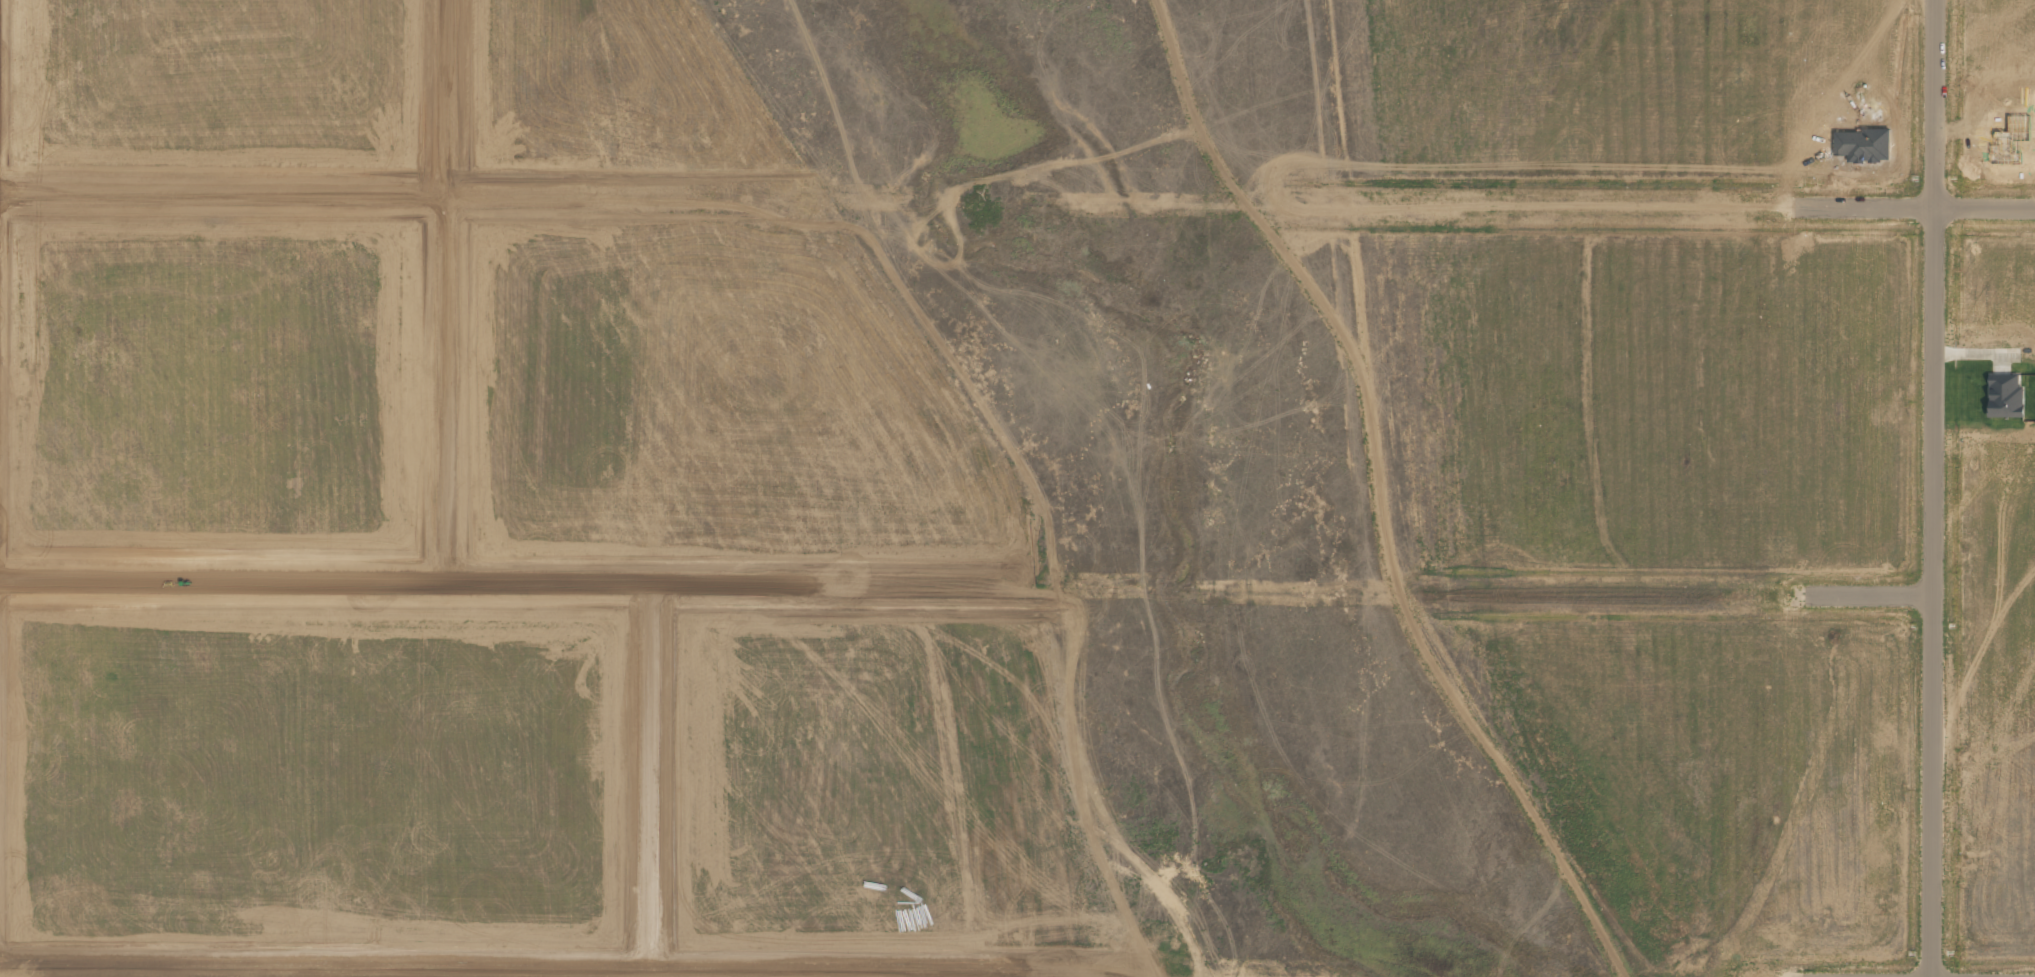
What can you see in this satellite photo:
road: (396, 193)
road: (1661, 206)
road: (442, 294)
road: (1932, 488)
road: (499, 589)
road: (1664, 594)
road: (649, 781)
road: (580, 971)
road: (322, 974)
road: (923, 974)

